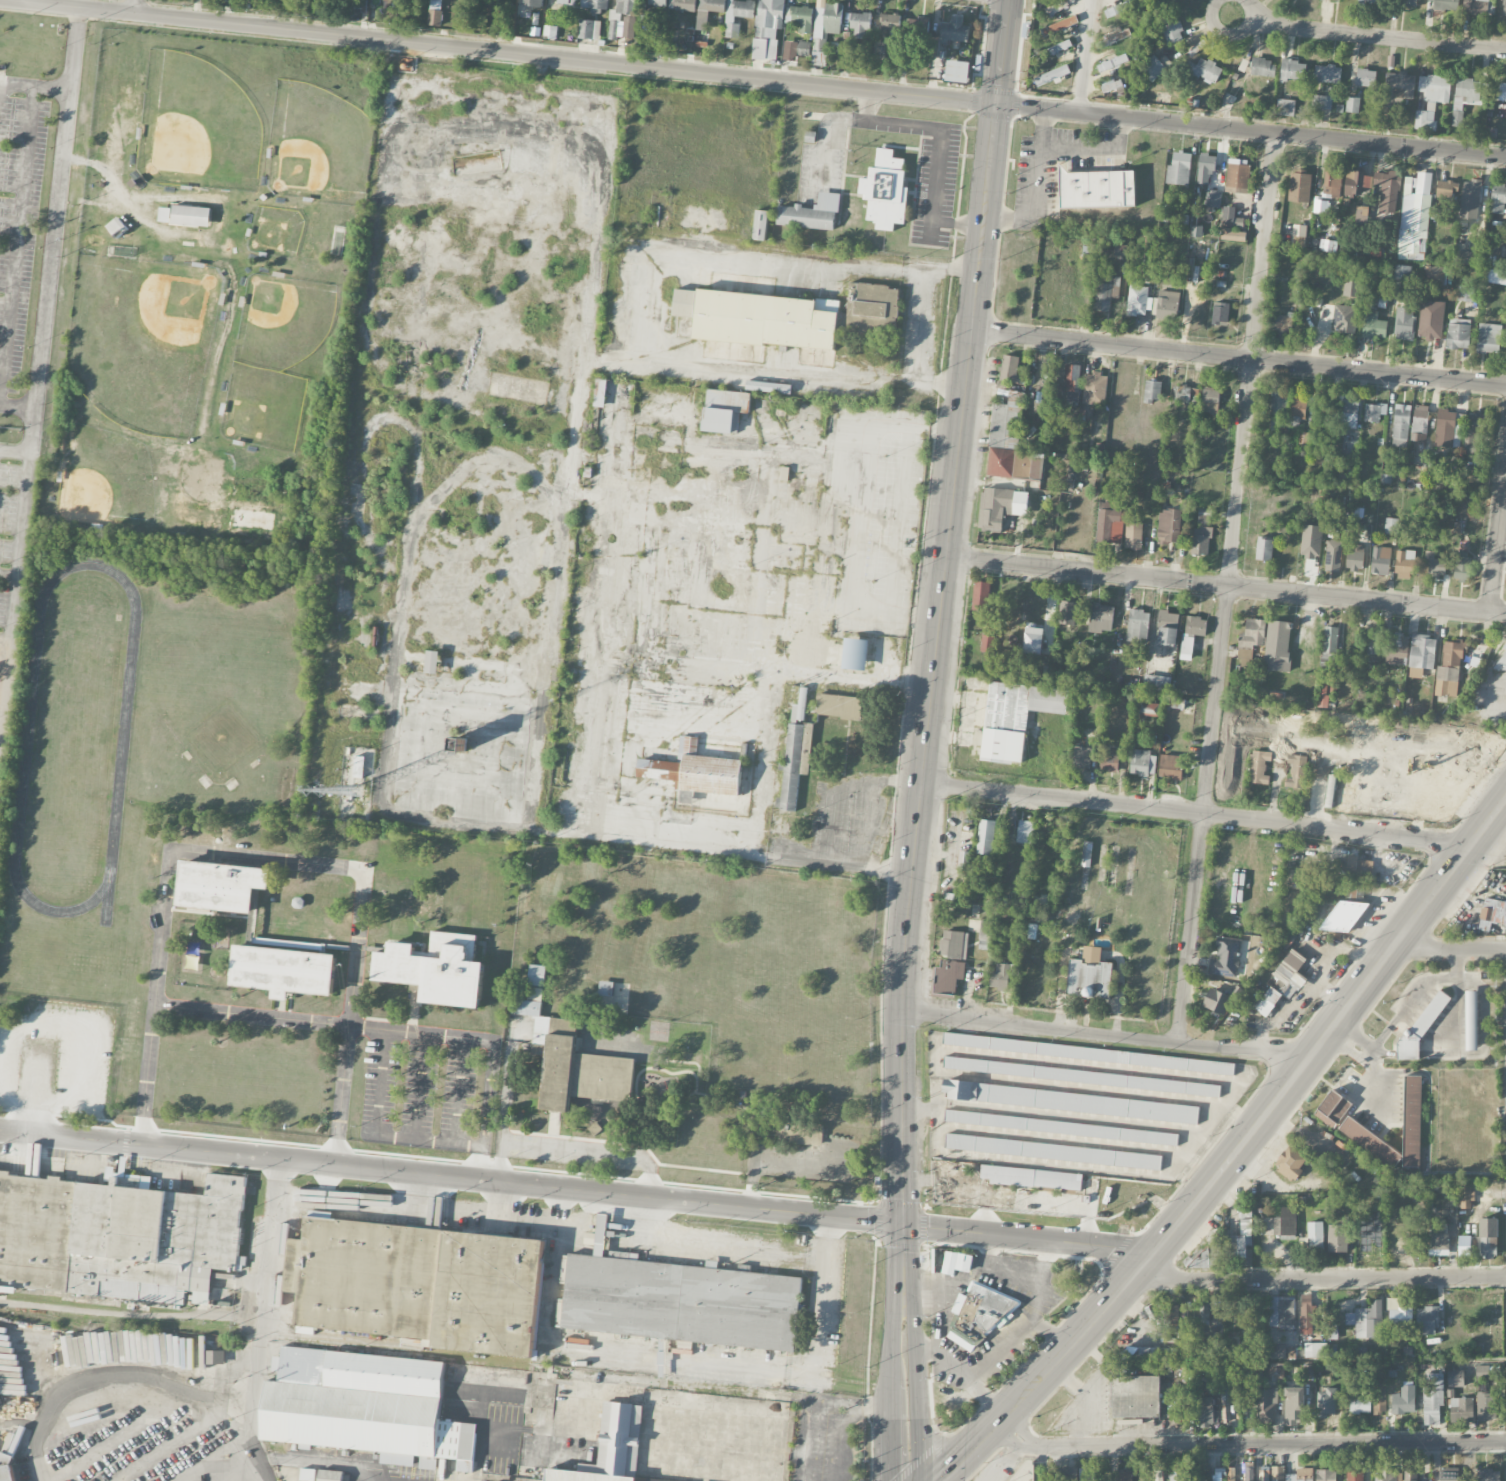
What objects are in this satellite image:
building: (1346, 0)
building: (1372, 1)
building: (567, 2)
building: (658, 3)
building: (1408, 3)
building: (595, 4)
building: (465, 5)
building: (686, 5)
building: (1445, 5)
building: (1479, 6)
road: (133, 7)
building: (527, 7)
building: (1058, 7)
building: (1504, 8)
building: (1117, 9)
building: (708, 11)
building: (435, 12)
building: (739, 16)
building: (802, 18)
building: (828, 18)
building: (623, 19)
building: (890, 22)
building: (860, 23)
building: (1059, 26)
building: (918, 27)
building: (768, 28)
building: (589, 29)
building: (1171, 29)
building: (955, 31)
building: (550, 32)
road: (1226, 34)
road: (1372, 38)
building: (1113, 39)
building: (1060, 47)
building: (803, 48)
road: (1086, 57)
building: (1112, 63)
building: (1263, 67)
building: (1154, 68)
building: (1205, 70)
building: (1293, 70)
building: (957, 71)
building: (1327, 74)
building: (1052, 76)
building: (1365, 77)
road: (752, 80)
road: (17, 84)
building: (1111, 85)
building: (1401, 86)
building: (1502, 91)
building: (1466, 96)
building: (1431, 99)
building: (1322, 102)
building: (1352, 105)
traffic signals: (997, 106)
building: (1285, 107)
park: (197, 126)
road: (942, 134)
park: (319, 145)
road: (1092, 150)
building: (1179, 169)
building: (1206, 169)
building: (1237, 178)
building: (1332, 181)
building: (1357, 183)
road: (1035, 186)
building: (1299, 187)
building: (1096, 189)
building: (1446, 189)
building: (886, 190)
building: (1387, 190)
building: (1213, 198)
building: (1470, 198)
building: (1497, 198)
building: (1320, 207)
building: (812, 213)
building: (1434, 213)
building: (186, 216)
building: (1361, 217)
building: (1231, 218)
road: (19, 219)
road: (960, 222)
building: (1416, 222)
building: (761, 225)
building: (117, 227)
park: (275, 230)
building: (1299, 231)
building: (1233, 236)
road: (52, 246)
building: (1120, 250)
building: (1468, 257)
building: (1402, 272)
building: (1434, 275)
building: (1496, 275)
building: (1351, 288)
building: (1106, 291)
park: (172, 292)
building: (1465, 293)
building: (1137, 300)
building: (683, 303)
building: (1167, 305)
road: (647, 308)
building: (1220, 313)
building: (795, 316)
building: (1345, 318)
building: (1431, 320)
park: (282, 321)
road: (921, 321)
building: (1283, 322)
building: (1404, 324)
building: (1374, 326)
building: (1458, 333)
park: (144, 337)
building: (1489, 338)
building: (733, 351)
road: (1240, 357)
building: (1010, 369)
building: (1072, 382)
building: (768, 387)
building: (1094, 389)
building: (1152, 391)
road: (967, 392)
building: (600, 393)
building: (1182, 394)
building: (1210, 400)
road: (18, 406)
building: (1298, 406)
building: (1277, 407)
park: (263, 408)
building: (724, 410)
building: (1374, 412)
building: (1349, 415)
building: (1007, 422)
building: (1419, 423)
building: (1401, 425)
building: (1449, 429)
building: (1477, 430)
building: (1350, 448)
building: (1015, 464)
building: (1020, 503)
building: (995, 508)
building: (1110, 522)
building: (1170, 526)
building: (1391, 526)
building: (1133, 535)
building: (1201, 541)
building: (1311, 541)
building: (1264, 549)
road: (1498, 549)
building: (1333, 556)
building: (1355, 557)
building: (1381, 560)
building: (1404, 564)
building: (1435, 565)
building: (1463, 568)
road: (1227, 586)
road: (15, 588)
road: (1229, 589)
building: (981, 597)
building: (1067, 613)
building: (1101, 618)
building: (1138, 626)
building: (1196, 626)
building: (1168, 628)
building: (1253, 633)
building: (1033, 639)
building: (1373, 642)
building: (988, 644)
building: (1330, 645)
building: (1278, 646)
building: (1187, 648)
building: (1397, 649)
building: (1245, 653)
building: (855, 654)
building: (1422, 655)
building: (1504, 656)
building: (432, 662)
building: (1449, 670)
building: (1157, 683)
park: (227, 699)
building: (1176, 703)
building: (843, 707)
building: (1149, 709)
building: (1015, 716)
track: (123, 737)
building: (1082, 757)
building: (1109, 762)
building: (795, 763)
building: (1143, 763)
building: (1171, 766)
building: (1259, 767)
building: (695, 771)
building: (1297, 772)
road: (897, 781)
road: (1197, 813)
road: (832, 822)
building: (1025, 832)
building: (986, 837)
road: (864, 847)
road: (196, 850)
building: (1086, 854)
building: (964, 860)
building: (1359, 866)
building: (221, 885)
building: (1493, 910)
building: (1344, 916)
building: (985, 935)
building: (951, 944)
road: (1450, 949)
building: (1226, 958)
building: (436, 968)
building: (283, 970)
building: (1292, 973)
building: (1089, 975)
building: (1002, 976)
building: (948, 977)
road: (903, 982)
building: (1236, 992)
road: (1415, 996)
building: (1217, 1001)
building: (1268, 1001)
road: (250, 1014)
building: (1471, 1021)
building: (1423, 1024)
road: (1351, 1033)
road: (1106, 1035)
road: (490, 1039)
building: (1088, 1054)
road: (1352, 1054)
building: (570, 1055)
building: (1081, 1077)
road: (1365, 1077)
road: (339, 1094)
building: (1070, 1102)
building: (1333, 1108)
road: (504, 1110)
building: (1412, 1123)
building: (1061, 1128)
road: (593, 1151)
road: (1236, 1151)
building: (1053, 1152)
building: (1290, 1164)
road: (451, 1176)
building: (1032, 1178)
road: (938, 1182)
building: (1465, 1197)
road: (903, 1202)
building: (1285, 1222)
traffic signals: (903, 1224)
building: (118, 1236)
road: (1024, 1236)
building: (1315, 1236)
building: (1338, 1238)
building: (1439, 1241)
road: (716, 1245)
building: (1235, 1247)
building: (1488, 1247)
road: (267, 1248)
building: (1208, 1255)
road: (903, 1259)
building: (957, 1262)
road: (1322, 1278)
building: (418, 1284)
building: (680, 1300)
building: (1216, 1309)
building: (1203, 1312)
building: (1282, 1312)
building: (1307, 1314)
building: (1399, 1316)
building: (977, 1317)
building: (1367, 1321)
building: (1427, 1321)
building: (1251, 1324)
building: (1332, 1331)
building: (1234, 1347)
building: (1315, 1350)
road: (892, 1351)
building: (1277, 1352)
building: (1291, 1353)
building: (1139, 1354)
building: (240, 1356)
road: (816, 1360)
building: (1482, 1371)
building: (1276, 1374)
building: (1456, 1379)
road: (96, 1382)
road: (916, 1386)
building: (1135, 1396)
building: (1225, 1397)
building: (1379, 1398)
building: (1432, 1398)
building: (1404, 1400)
building: (1326, 1403)
building: (1360, 1404)
building: (366, 1406)
building: (1266, 1406)
building: (1486, 1406)
building: (1291, 1410)
building: (1461, 1410)
road: (250, 1411)
building: (1204, 1411)
road: (826, 1415)
road: (1248, 1444)
road: (890, 1445)
building: (612, 1448)
road: (1011, 1460)
road: (308, 1461)
building: (6, 1467)
road: (229, 1469)
building: (1024, 1470)
building: (1087, 1472)
building: (1278, 1473)
building: (1066, 1474)
building: (1143, 1474)
building: (1218, 1474)
building: (1231, 1474)
building: (1249, 1474)
building: (1354, 1474)
building: (330, 1475)
building: (1264, 1475)
building: (1300, 1475)
building: (1326, 1475)
building: (1488, 1475)
building: (1124, 1476)
building: (1178, 1476)
building: (1396, 1476)

